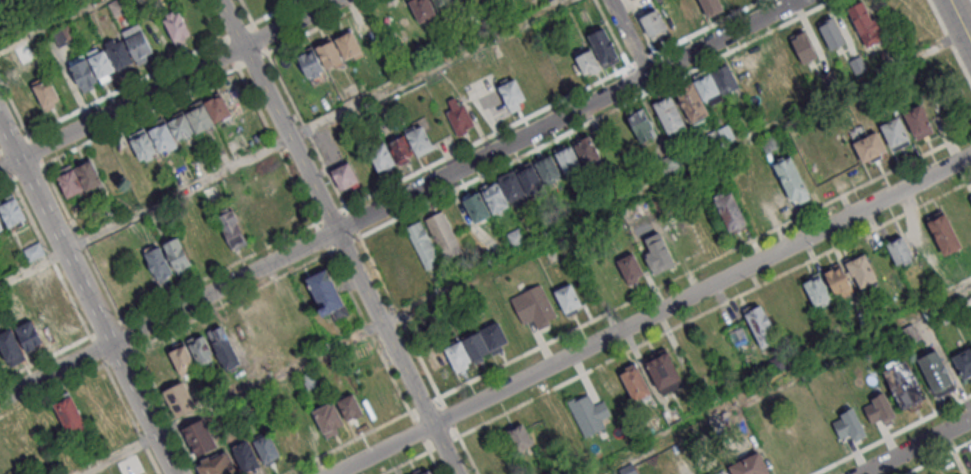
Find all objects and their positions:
building: (547, 0)
building: (442, 3)
building: (118, 6)
building: (712, 7)
building: (422, 9)
building: (679, 13)
road: (208, 20)
building: (653, 23)
building: (865, 23)
road: (959, 23)
road: (48, 24)
building: (177, 27)
building: (831, 33)
building: (366, 34)
building: (62, 35)
road: (627, 37)
road: (969, 38)
building: (348, 44)
building: (138, 45)
building: (802, 46)
building: (603, 47)
building: (778, 52)
building: (329, 53)
building: (119, 54)
building: (100, 63)
building: (311, 63)
building: (588, 63)
building: (83, 73)
building: (549, 73)
building: (746, 73)
building: (725, 79)
road: (167, 83)
building: (707, 86)
road: (123, 89)
building: (46, 93)
building: (511, 94)
building: (26, 100)
building: (692, 101)
building: (218, 107)
building: (670, 114)
road: (139, 115)
building: (458, 116)
building: (200, 117)
building: (918, 122)
building: (642, 125)
building: (181, 127)
building: (895, 133)
building: (622, 134)
building: (162, 136)
building: (419, 139)
road: (281, 141)
road: (276, 145)
building: (143, 146)
building: (869, 146)
building: (401, 147)
building: (586, 150)
building: (382, 156)
building: (567, 158)
building: (841, 159)
road: (40, 162)
building: (547, 167)
building: (89, 175)
building: (345, 176)
building: (528, 177)
building: (792, 181)
building: (70, 183)
road: (389, 184)
building: (511, 184)
building: (211, 193)
building: (970, 195)
building: (494, 198)
road: (398, 199)
building: (287, 202)
road: (344, 207)
building: (476, 207)
building: (11, 210)
building: (730, 212)
building: (1, 227)
building: (231, 228)
building: (442, 233)
building: (943, 233)
road: (336, 236)
building: (515, 236)
road: (322, 237)
building: (920, 239)
road: (81, 242)
building: (423, 243)
road: (345, 245)
building: (492, 249)
building: (32, 250)
building: (899, 250)
road: (46, 251)
road: (522, 253)
building: (659, 254)
building: (178, 255)
building: (158, 264)
building: (629, 267)
building: (862, 270)
road: (217, 272)
building: (610, 278)
building: (838, 279)
building: (324, 291)
building: (817, 291)
building: (567, 297)
road: (88, 299)
road: (232, 301)
building: (533, 305)
road: (714, 307)
road: (652, 314)
building: (761, 326)
road: (104, 328)
road: (127, 334)
building: (909, 334)
building: (28, 335)
building: (495, 338)
building: (477, 346)
building: (10, 347)
building: (225, 348)
road: (96, 350)
building: (201, 351)
building: (457, 355)
road: (119, 356)
road: (44, 358)
building: (182, 359)
building: (963, 363)
road: (105, 367)
building: (663, 370)
building: (935, 370)
building: (310, 378)
road: (782, 379)
building: (634, 382)
building: (904, 383)
building: (613, 390)
building: (179, 399)
building: (349, 406)
building: (879, 409)
building: (588, 413)
building: (70, 415)
building: (327, 417)
building: (559, 422)
building: (848, 425)
building: (305, 427)
road: (892, 434)
building: (199, 437)
building: (520, 437)
road: (442, 442)
road: (913, 445)
building: (267, 447)
building: (245, 456)
road: (415, 456)
road: (938, 457)
building: (218, 465)
building: (750, 465)
building: (628, 469)
building: (427, 472)
building: (721, 472)
building: (970, 473)
building: (970, 473)

